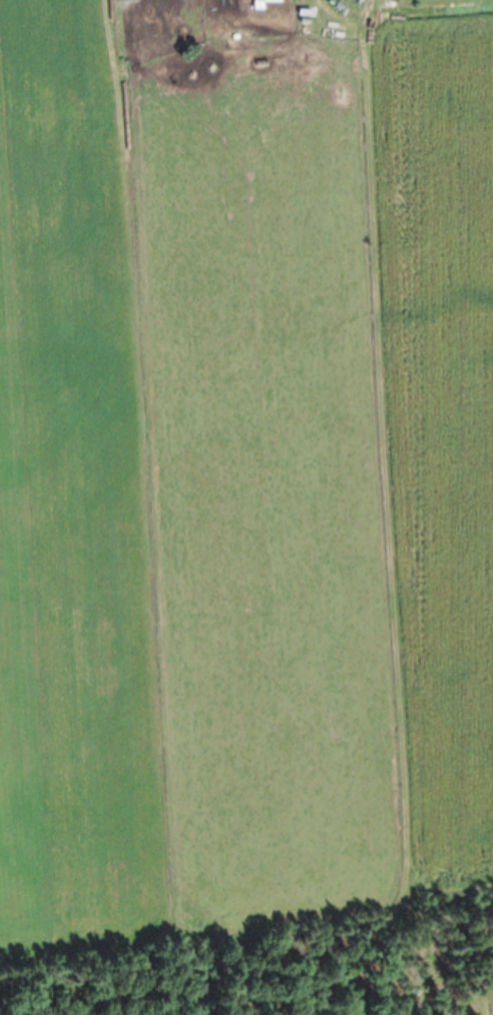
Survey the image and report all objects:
crop: (243, 473)

